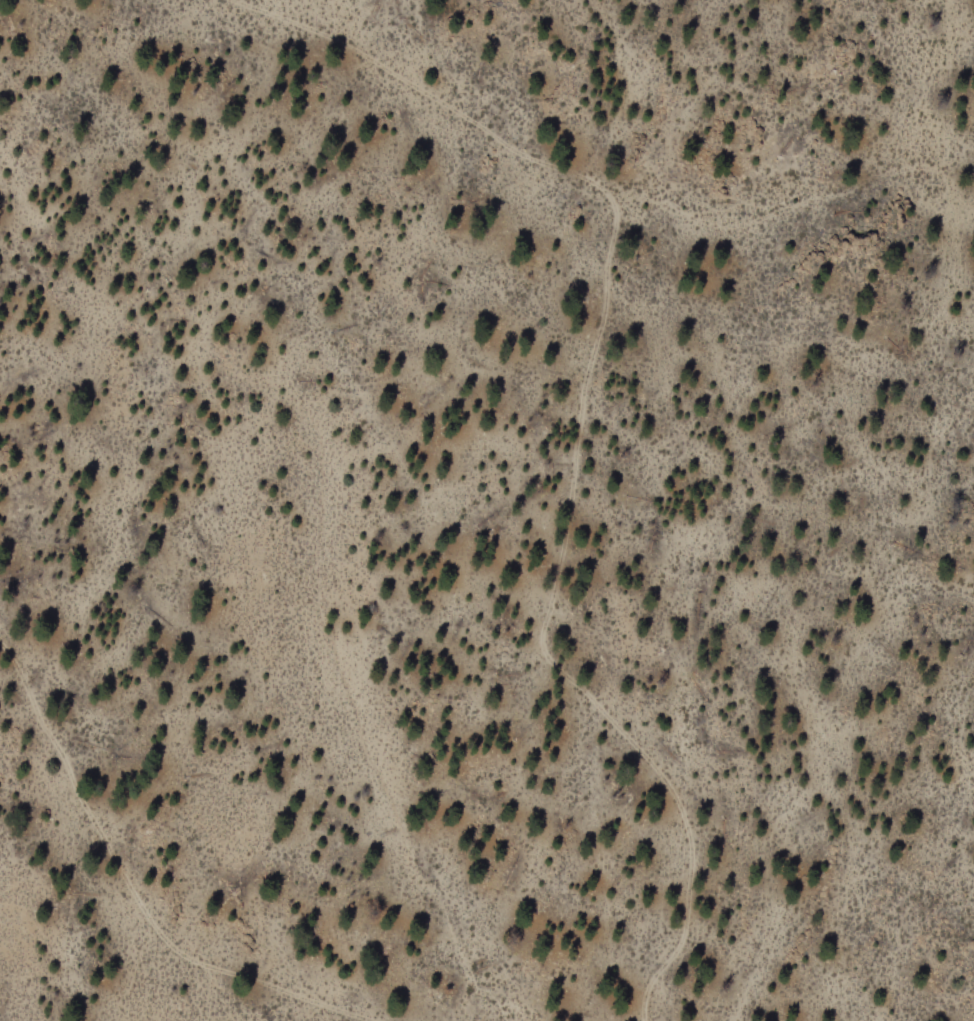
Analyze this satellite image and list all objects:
road: (484, 129)
road: (549, 631)
road: (131, 890)

